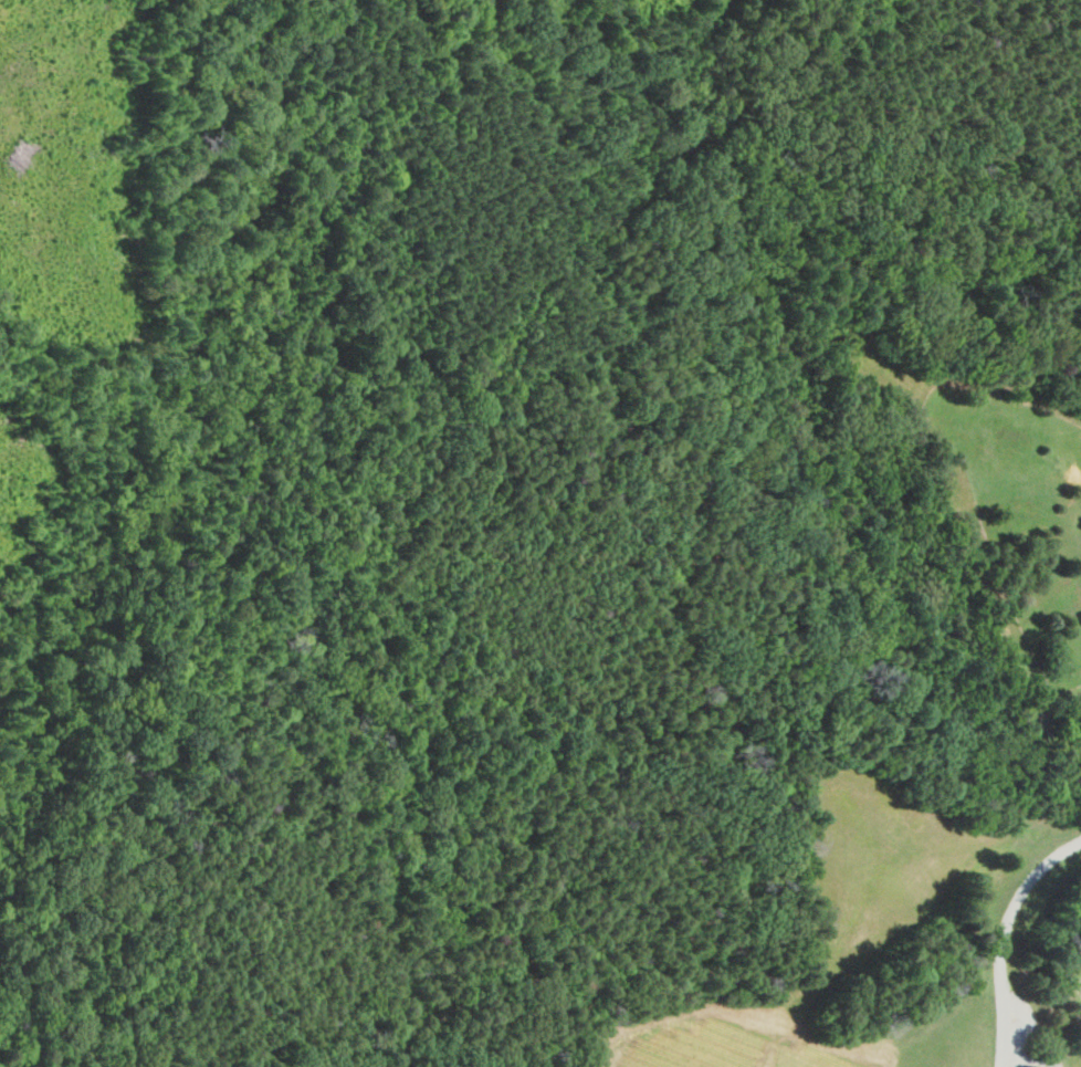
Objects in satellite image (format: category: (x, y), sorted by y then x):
road: (1003, 941)

